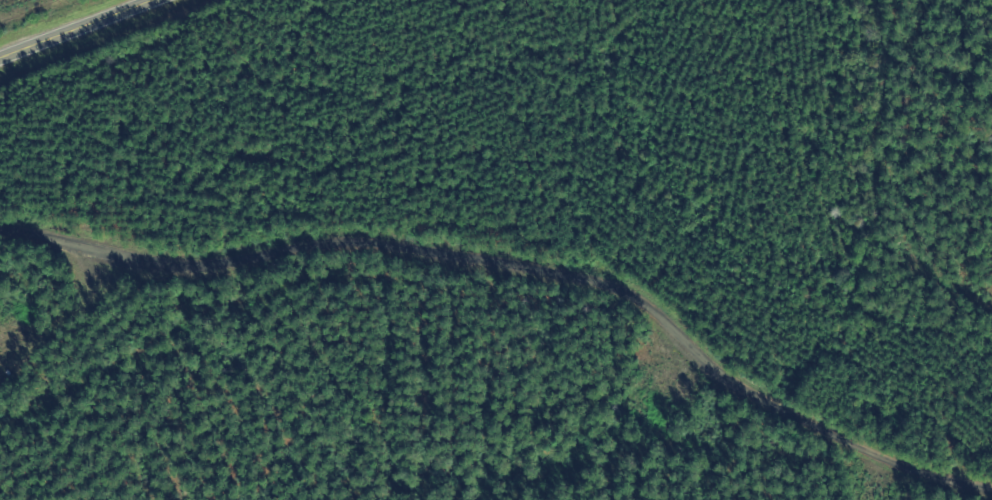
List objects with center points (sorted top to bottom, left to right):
road: (68, 26)
road: (521, 269)
road: (64, 335)

